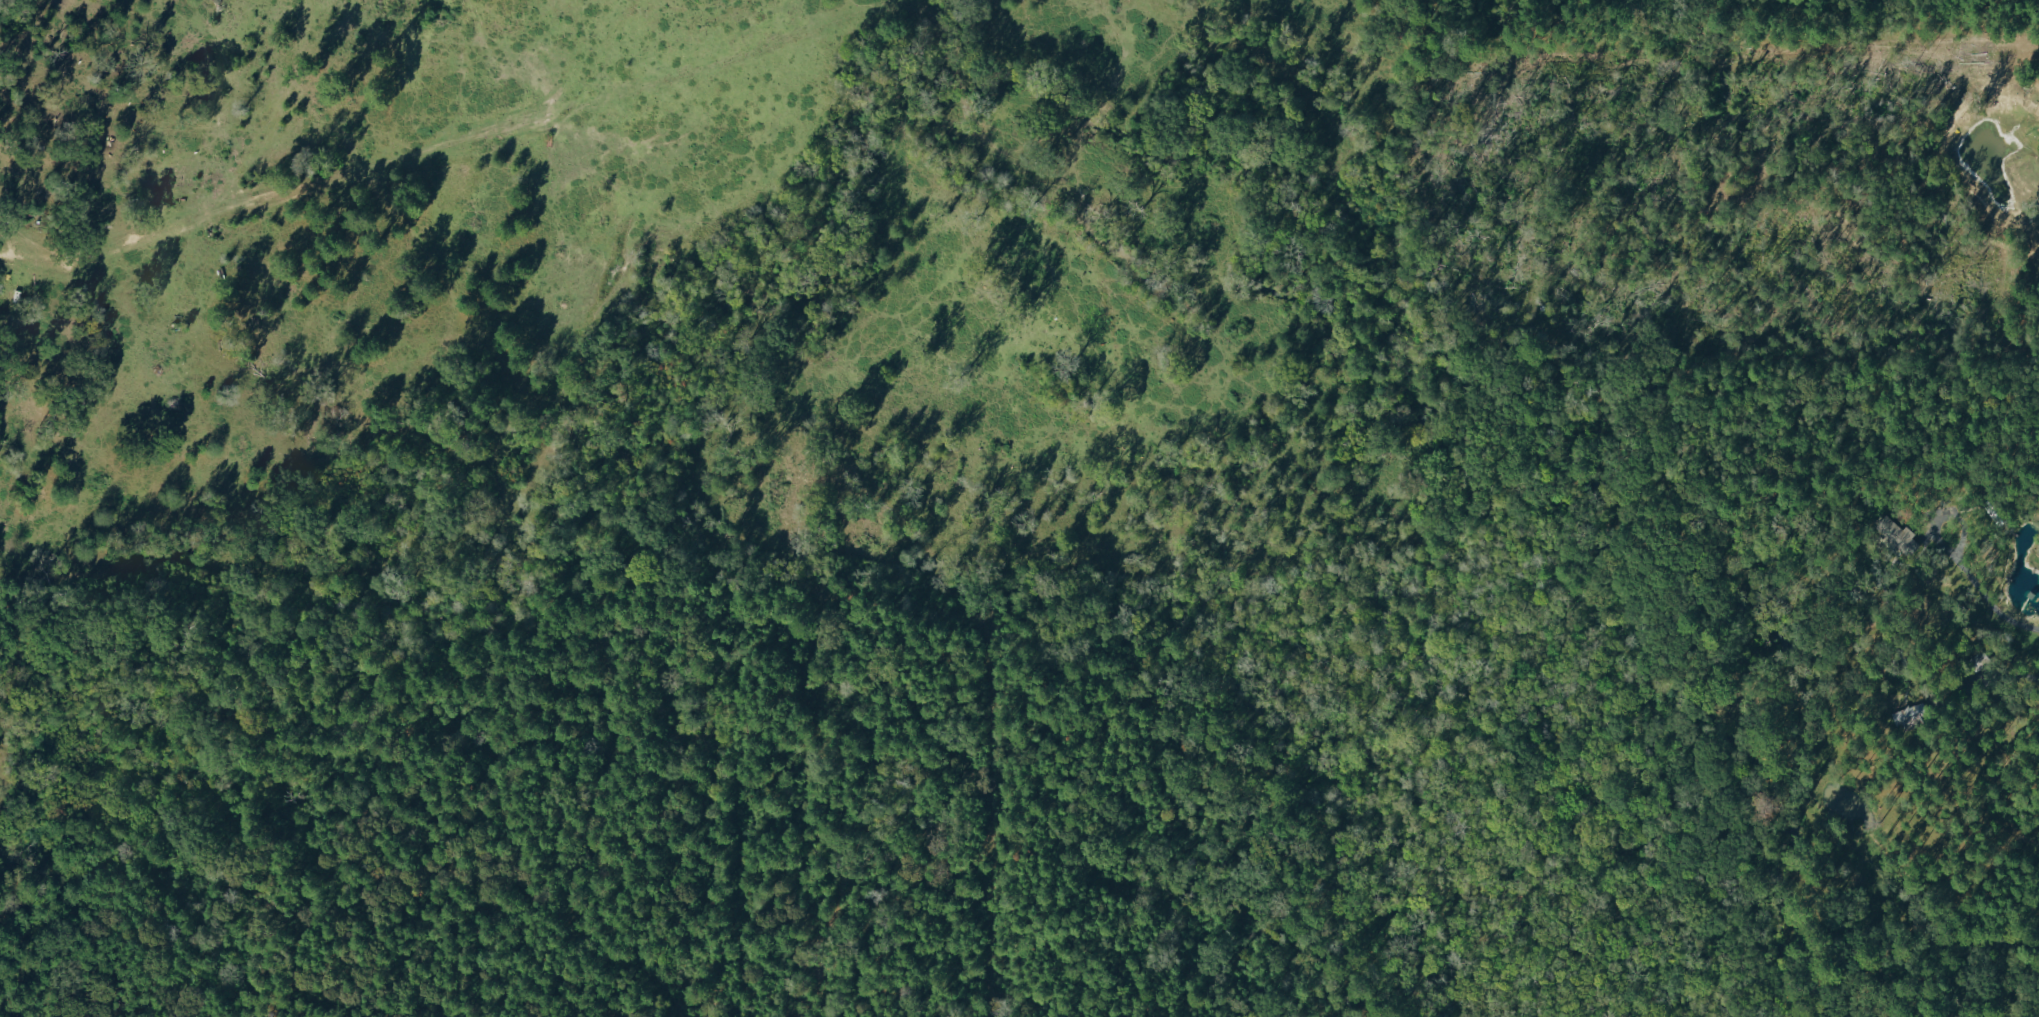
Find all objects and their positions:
river: (1549, 383)
building: (1897, 535)

